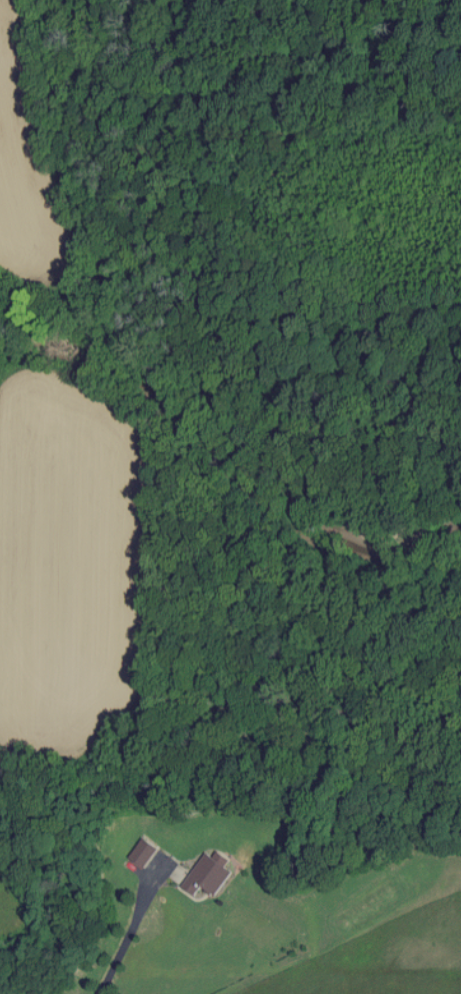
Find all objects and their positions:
building: (146, 852)
building: (210, 875)
road: (133, 935)

